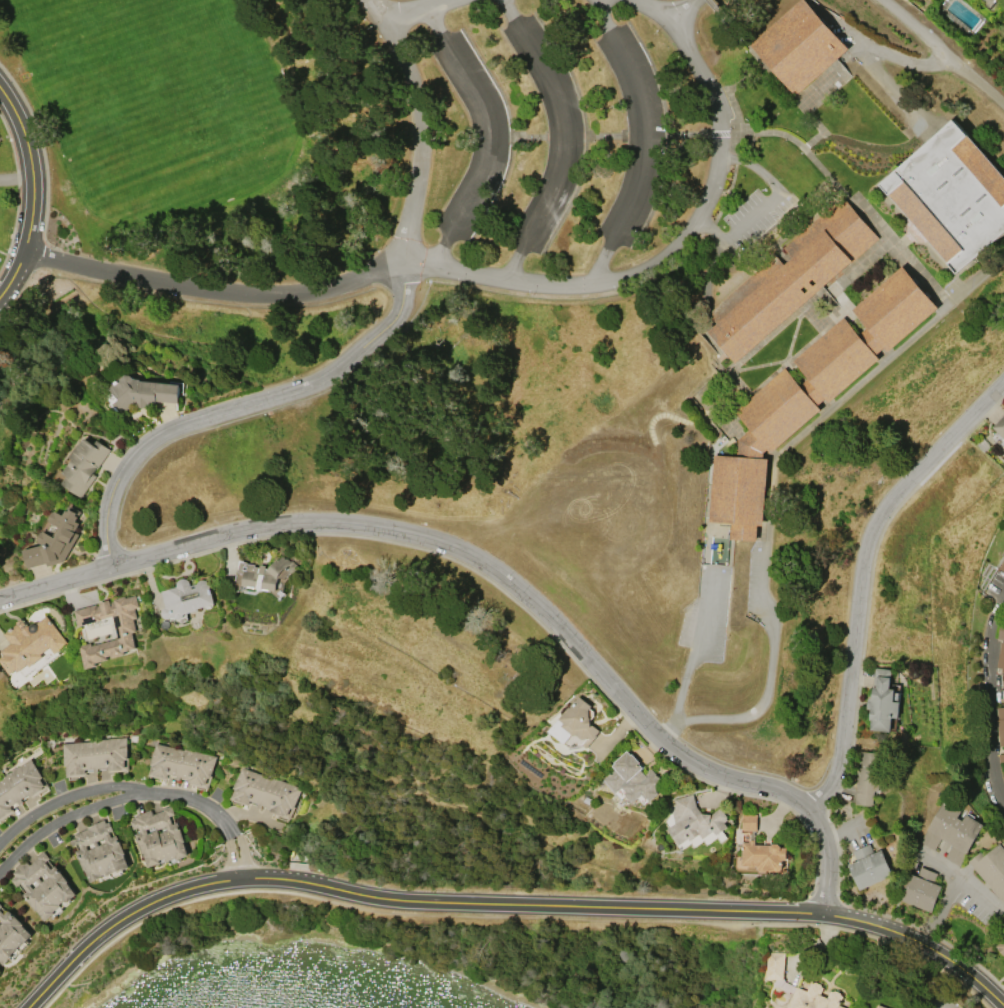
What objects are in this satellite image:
building: (987, 2)
road: (650, 8)
road: (681, 8)
road: (423, 9)
road: (381, 11)
building: (799, 45)
road: (944, 52)
road: (491, 137)
road: (563, 142)
road: (648, 143)
road: (423, 144)
road: (31, 167)
road: (18, 193)
building: (951, 195)
road: (767, 200)
road: (900, 254)
road: (14, 274)
building: (790, 278)
road: (478, 280)
building: (142, 392)
building: (810, 395)
road: (237, 409)
building: (1000, 426)
building: (84, 465)
road: (772, 485)
building: (55, 540)
road: (445, 545)
building: (1003, 553)
building: (1002, 566)
building: (265, 576)
building: (186, 597)
building: (1001, 629)
building: (124, 631)
road: (855, 631)
building: (30, 642)
road: (692, 648)
building: (1001, 659)
road: (988, 699)
building: (882, 700)
building: (575, 723)
building: (1000, 724)
building: (95, 755)
building: (1001, 757)
building: (181, 764)
building: (868, 776)
building: (632, 777)
building: (19, 786)
building: (264, 792)
road: (194, 800)
road: (64, 818)
building: (693, 820)
building: (951, 831)
building: (159, 836)
building: (760, 848)
building: (99, 851)
road: (239, 857)
building: (869, 866)
building: (991, 869)
building: (43, 886)
building: (920, 889)
road: (506, 904)
building: (0, 905)
road: (382, 912)
road: (945, 915)
building: (11, 935)
road: (884, 940)
building: (1000, 945)
building: (800, 987)
building: (879, 1006)
building: (960, 1007)

